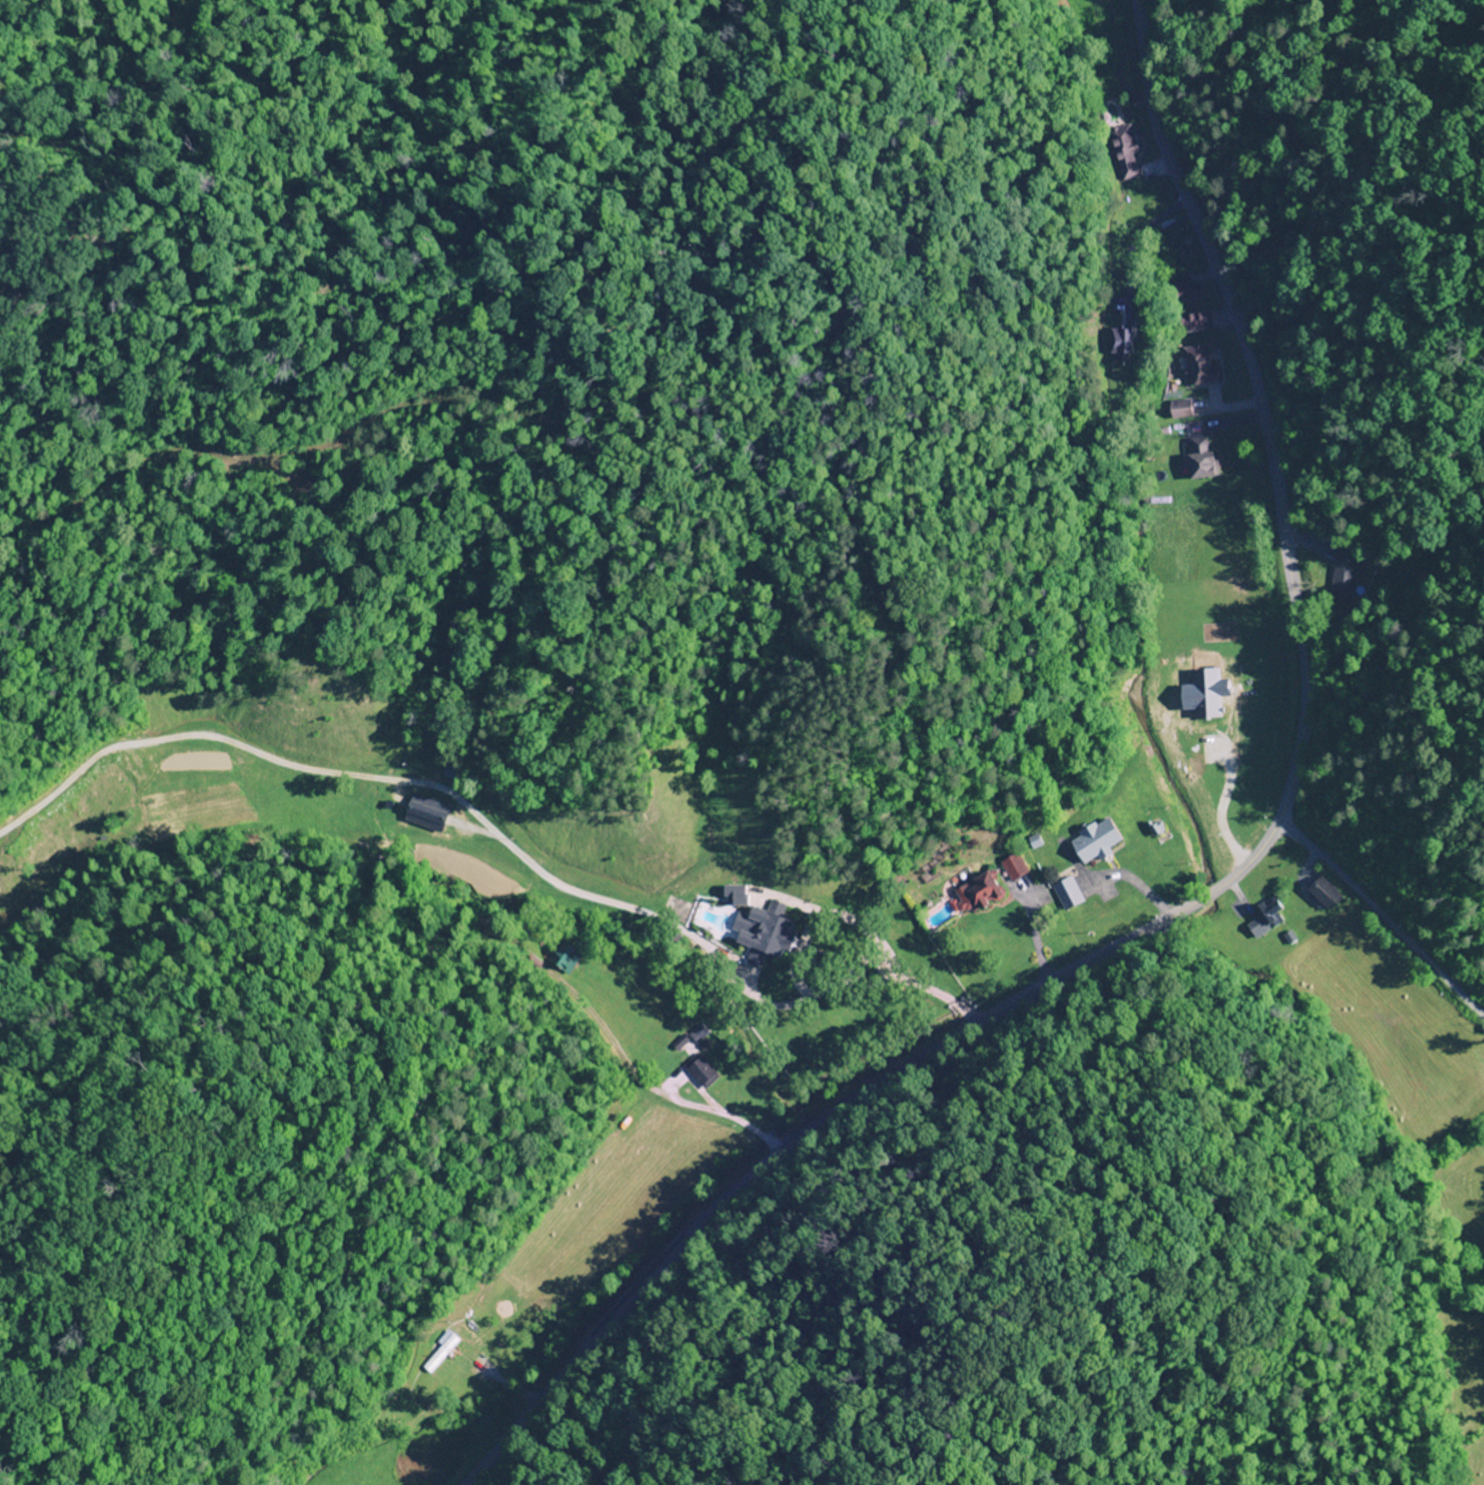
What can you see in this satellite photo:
building: (1189, 323)
building: (1196, 365)
building: (1197, 459)
building: (1343, 578)
building: (433, 808)
building: (1091, 842)
building: (1011, 867)
building: (974, 894)
building: (1064, 895)
road: (1205, 897)
building: (1317, 899)
building: (1270, 913)
road: (1378, 917)
building: (755, 929)
building: (699, 1072)

